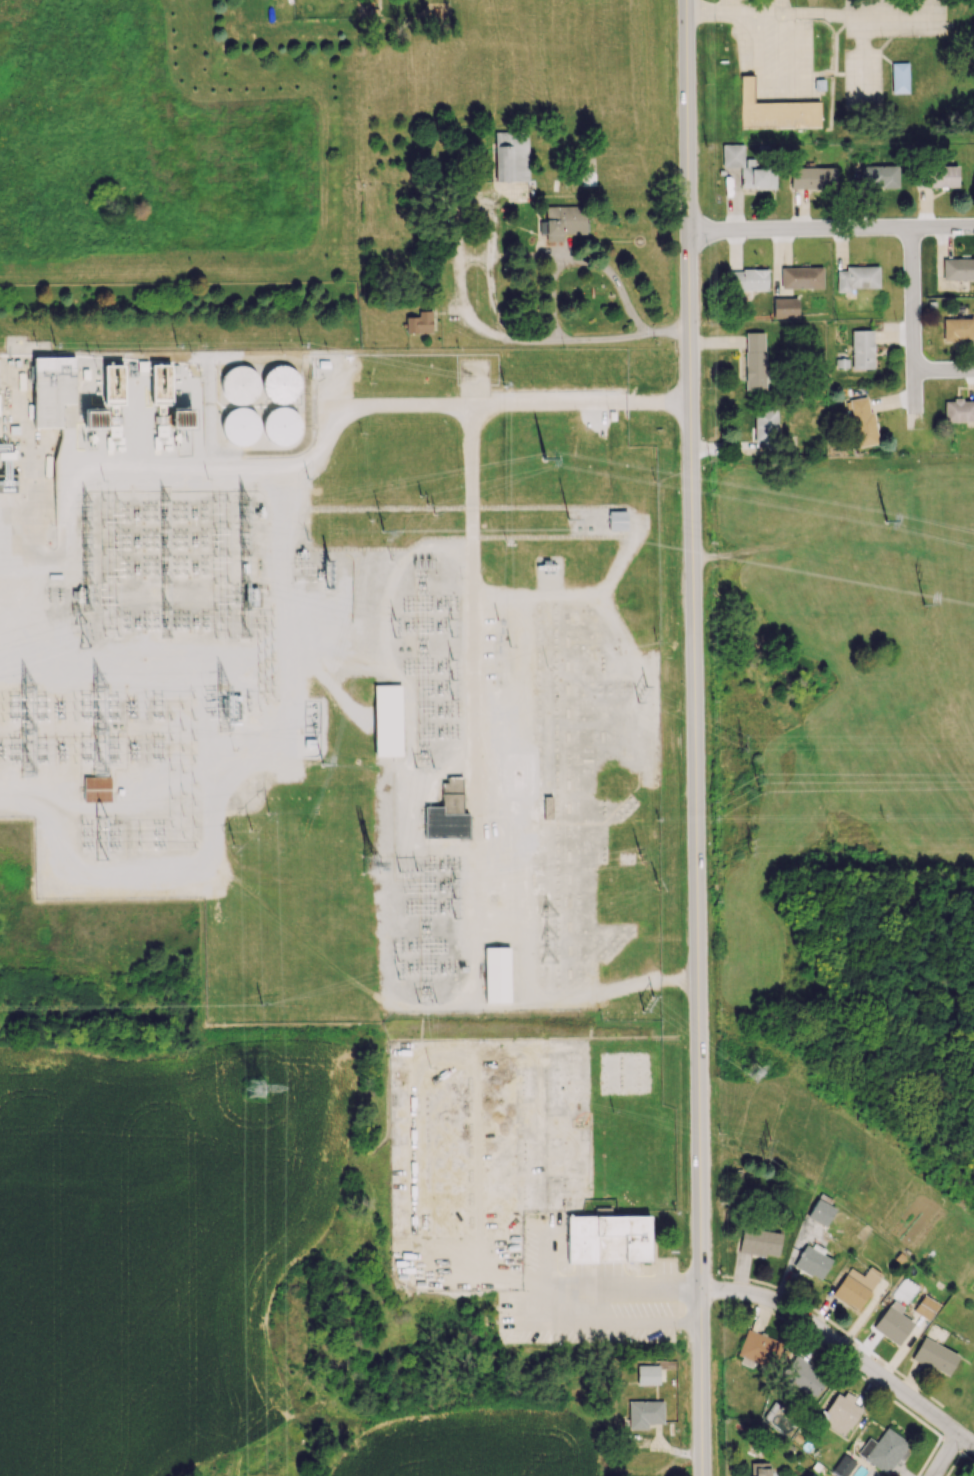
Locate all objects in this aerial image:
road: (814, 15)
building: (899, 77)
building: (774, 110)
building: (511, 156)
building: (747, 168)
building: (879, 176)
building: (936, 177)
building: (812, 178)
building: (562, 222)
road: (832, 231)
building: (958, 269)
building: (801, 277)
building: (857, 278)
building: (747, 279)
road: (551, 307)
building: (785, 308)
building: (419, 323)
building: (957, 329)
road: (914, 330)
road: (665, 337)
building: (861, 349)
building: (754, 361)
road: (944, 371)
building: (282, 383)
building: (160, 384)
building: (239, 385)
building: (52, 389)
building: (958, 410)
road: (371, 411)
building: (180, 418)
building: (94, 419)
building: (862, 422)
building: (239, 425)
building: (282, 425)
building: (765, 428)
building: (5, 451)
power tower: (547, 459)
power tower: (432, 506)
power tower: (569, 519)
building: (617, 521)
power tower: (891, 523)
power tower: (383, 531)
power tower: (923, 605)
power substation: (282, 673)
power tower: (648, 694)
building: (387, 720)
road: (696, 737)
power tower: (746, 742)
power tower: (321, 767)
power tower: (758, 784)
building: (96, 788)
road: (481, 796)
building: (447, 813)
power tower: (250, 826)
power tower: (756, 848)
power tower: (371, 868)
power tower: (659, 878)
power tower: (658, 1005)
power tower: (433, 1072)
power tower: (757, 1074)
power tower: (259, 1090)
power tower: (619, 1113)
power tower: (777, 1150)
power tower: (854, 1195)
building: (821, 1210)
building: (607, 1238)
building: (759, 1242)
crop: (155, 1244)
building: (812, 1261)
building: (855, 1286)
building: (905, 1291)
road: (631, 1292)
building: (925, 1306)
building: (892, 1324)
building: (759, 1348)
road: (846, 1352)
building: (934, 1356)
building: (647, 1374)
building: (803, 1376)
building: (644, 1413)
building: (840, 1414)
building: (883, 1450)
road: (948, 1458)
building: (843, 1465)
building: (759, 1469)

